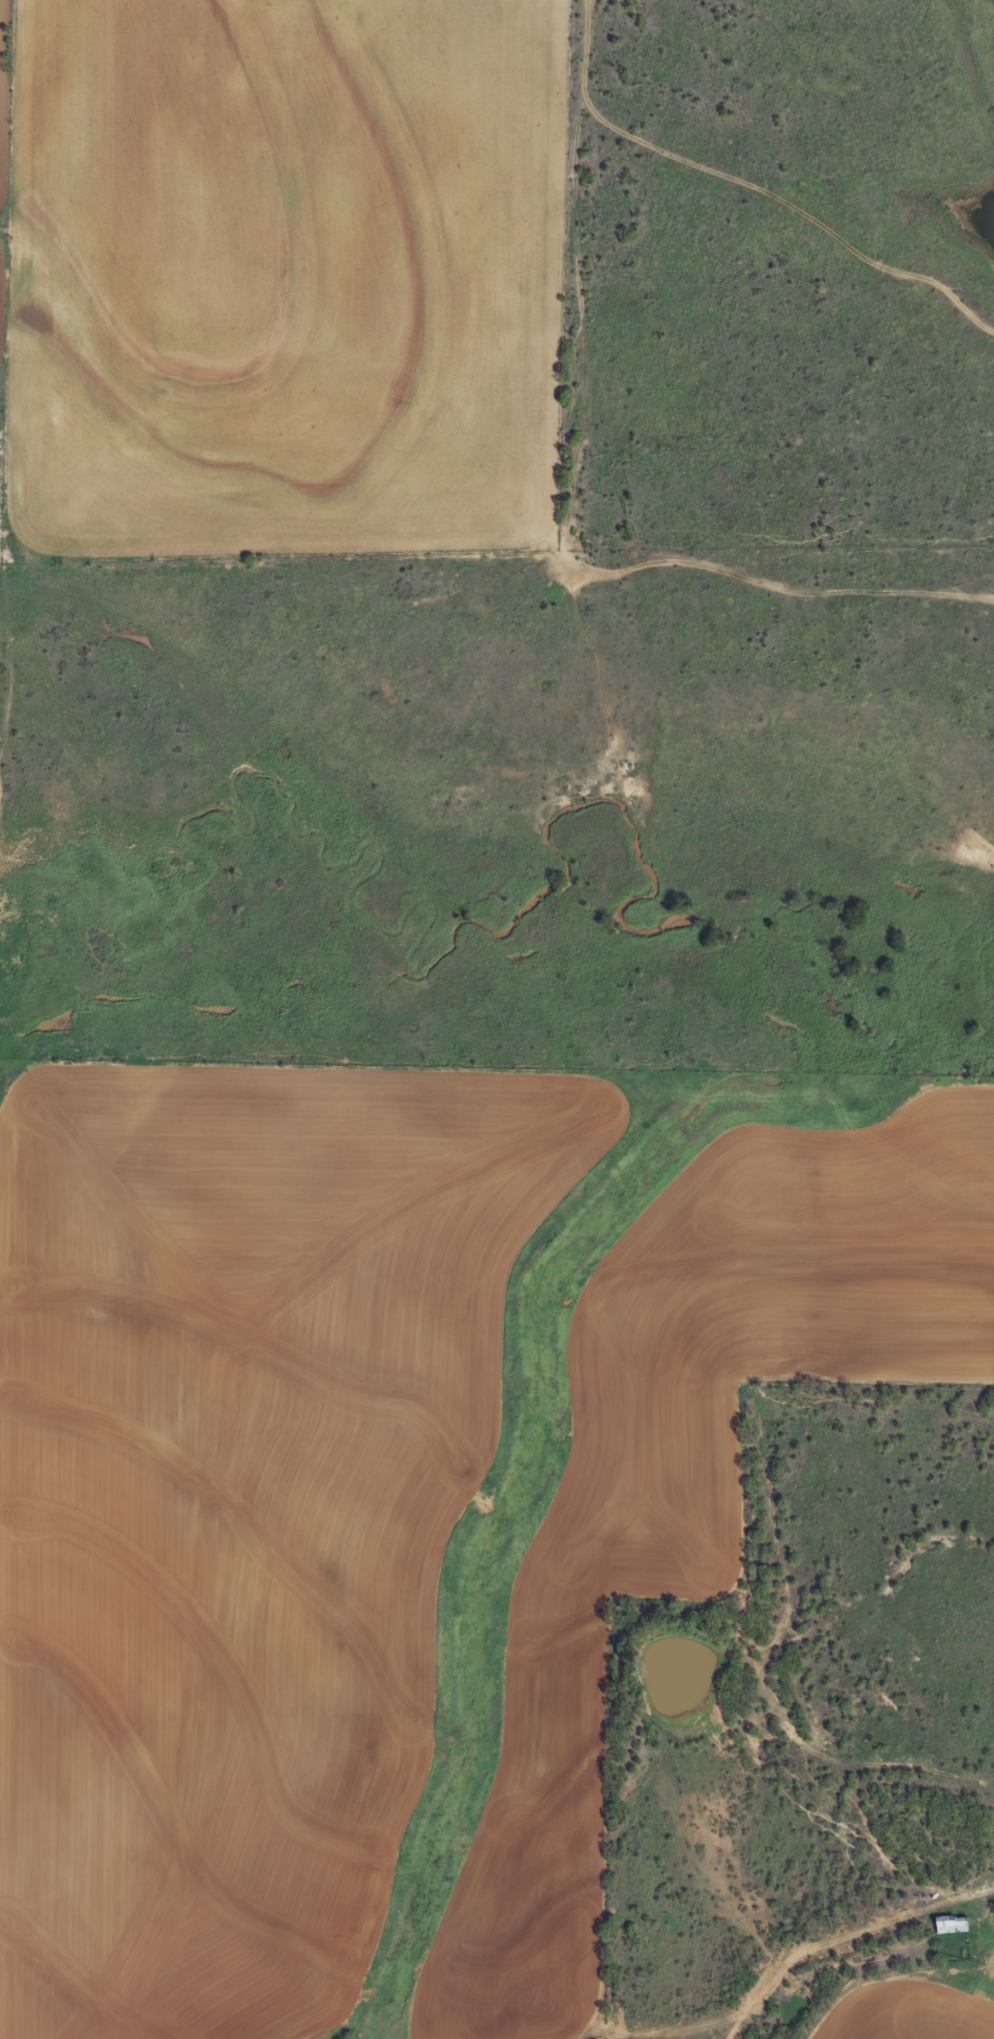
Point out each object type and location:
building: (952, 1926)

